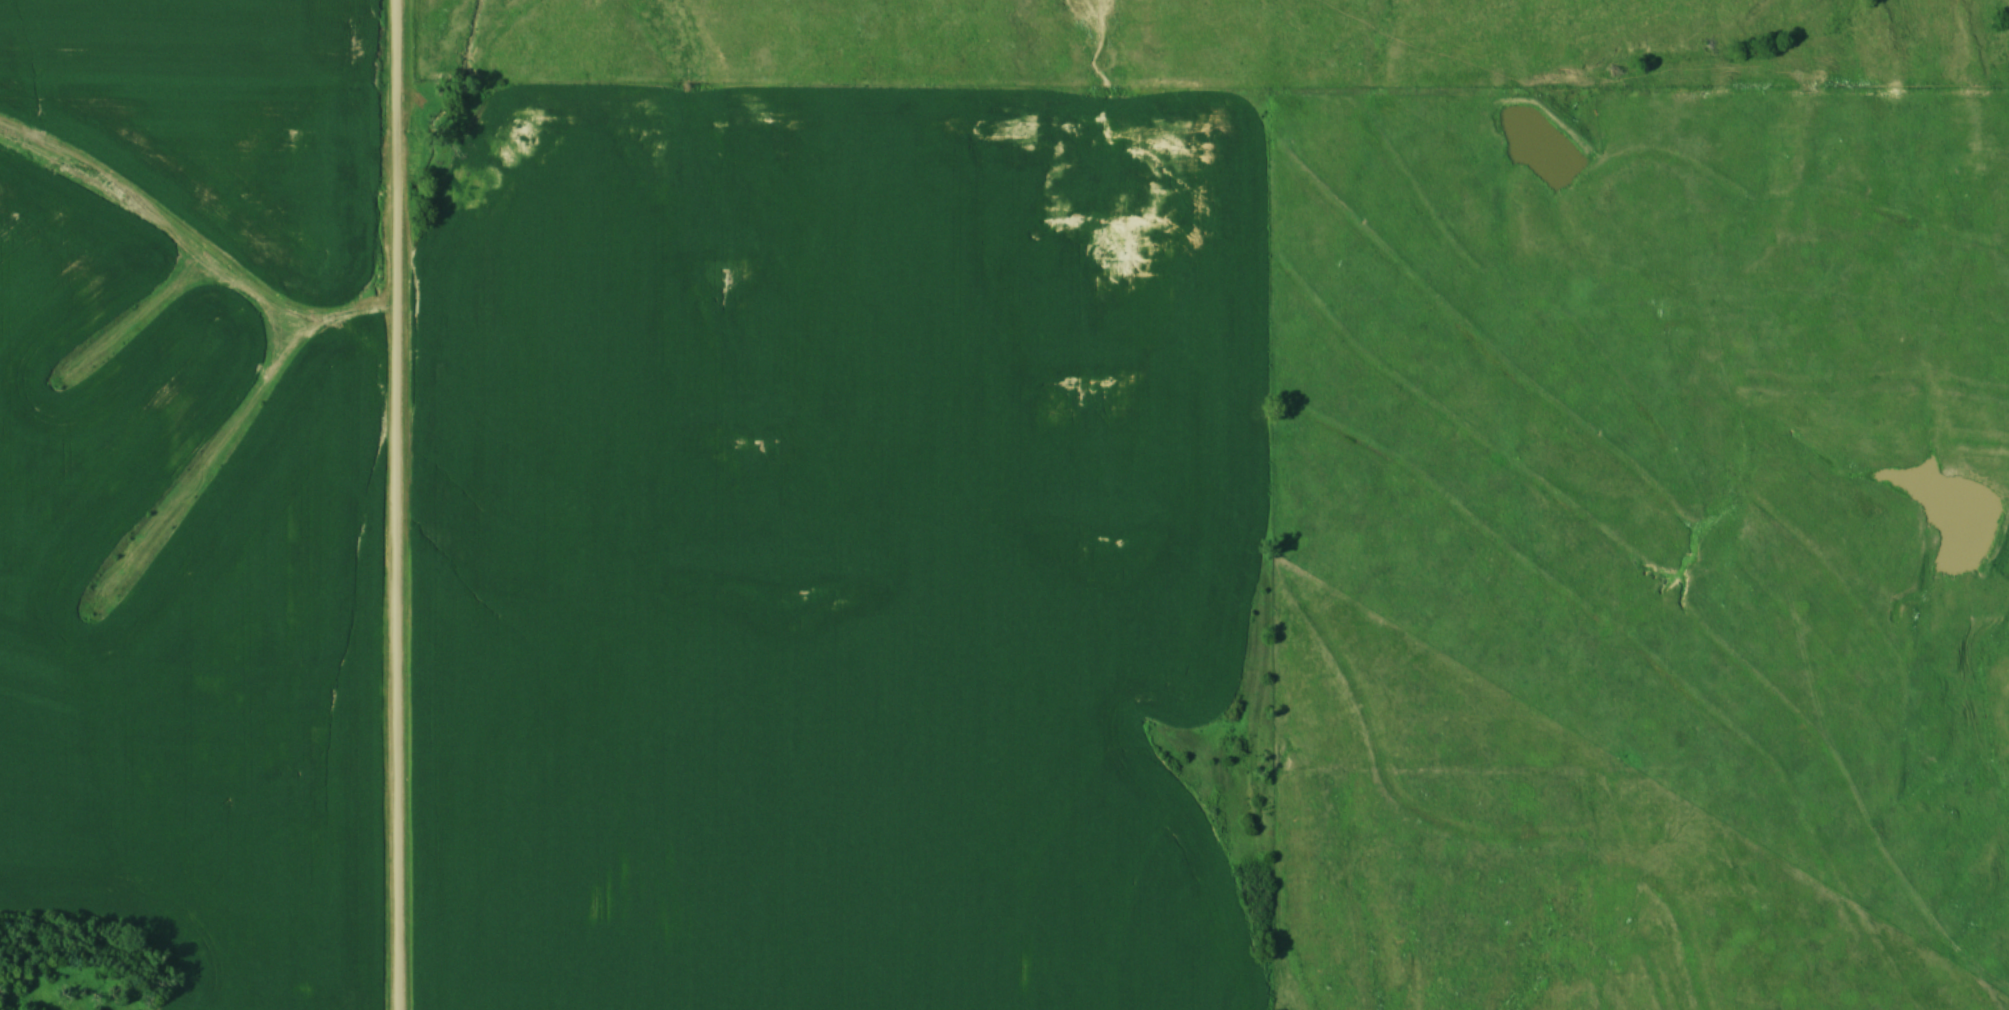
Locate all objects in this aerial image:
road: (393, 505)

